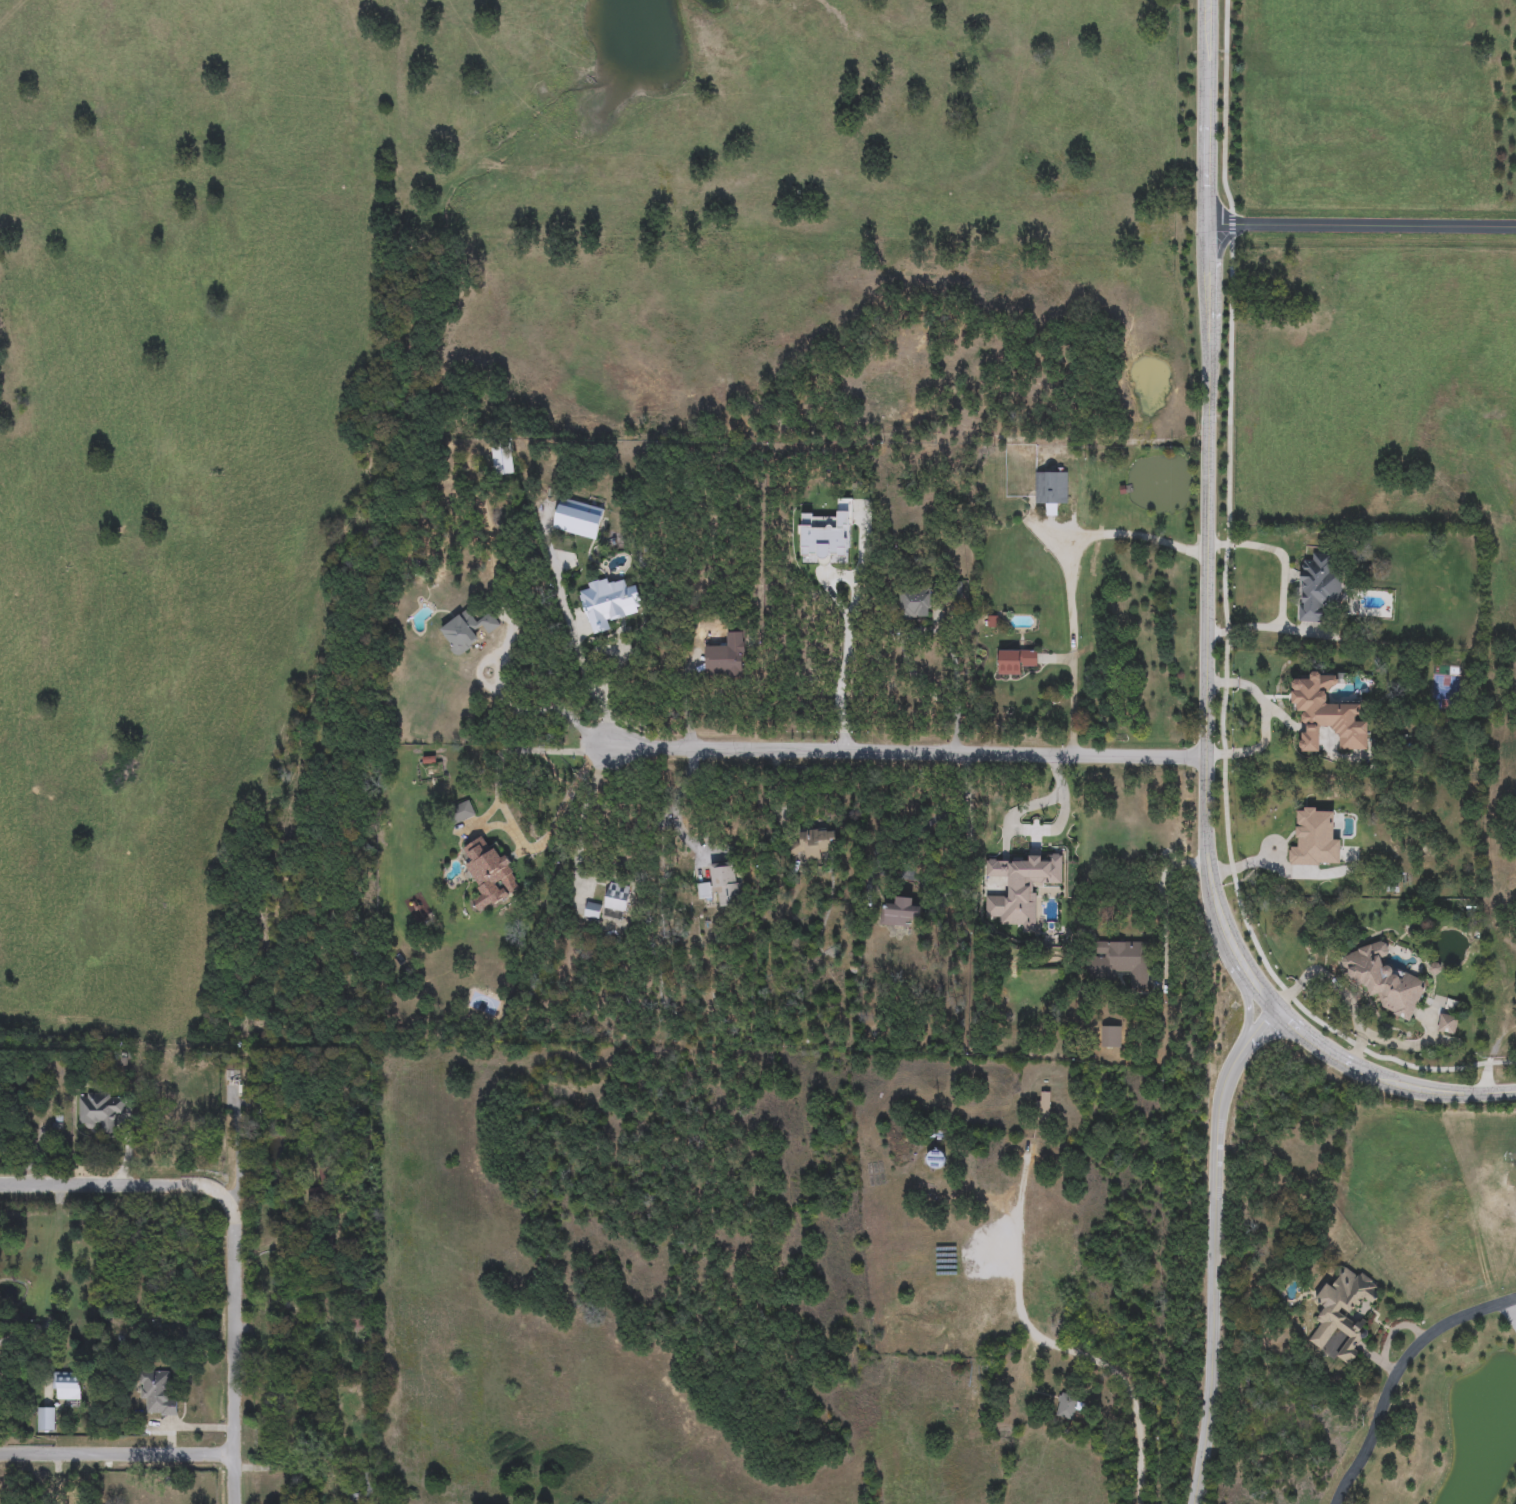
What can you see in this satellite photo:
road: (1356, 226)
road: (1510, 227)
road: (1510, 228)
building: (502, 459)
building: (1051, 489)
road: (1208, 491)
building: (915, 499)
building: (579, 519)
road: (1048, 534)
building: (825, 537)
road: (1281, 554)
road: (1071, 575)
building: (1318, 588)
building: (608, 603)
building: (913, 603)
road: (848, 625)
road: (1266, 628)
building: (466, 631)
road: (1226, 631)
building: (725, 657)
road: (1054, 661)
building: (1015, 662)
road: (590, 695)
road: (929, 697)
road: (519, 705)
building: (1326, 716)
road: (1265, 722)
road: (1296, 728)
road: (908, 750)
road: (682, 808)
building: (462, 812)
road: (584, 812)
road: (507, 819)
road: (1039, 832)
road: (1277, 842)
building: (1314, 842)
building: (814, 844)
road: (1287, 871)
road: (906, 873)
building: (490, 875)
building: (725, 887)
building: (1020, 888)
building: (703, 894)
road: (1158, 900)
building: (616, 902)
building: (593, 911)
building: (905, 913)
building: (1120, 962)
road: (1308, 974)
building: (1384, 980)
road: (1262, 997)
road: (1247, 1014)
building: (1448, 1024)
road: (1260, 1034)
building: (1111, 1037)
road: (1399, 1045)
road: (1388, 1083)
building: (1044, 1106)
building: (100, 1110)
road: (236, 1157)
road: (234, 1235)
road: (1212, 1276)
building: (1343, 1313)
road: (1508, 1314)
building: (357, 1321)
road: (1387, 1337)
road: (20, 1339)
road: (1054, 1344)
road: (1371, 1356)
road: (1395, 1372)
building: (68, 1386)
building: (157, 1393)
building: (1067, 1408)
building: (46, 1419)
road: (117, 1458)

